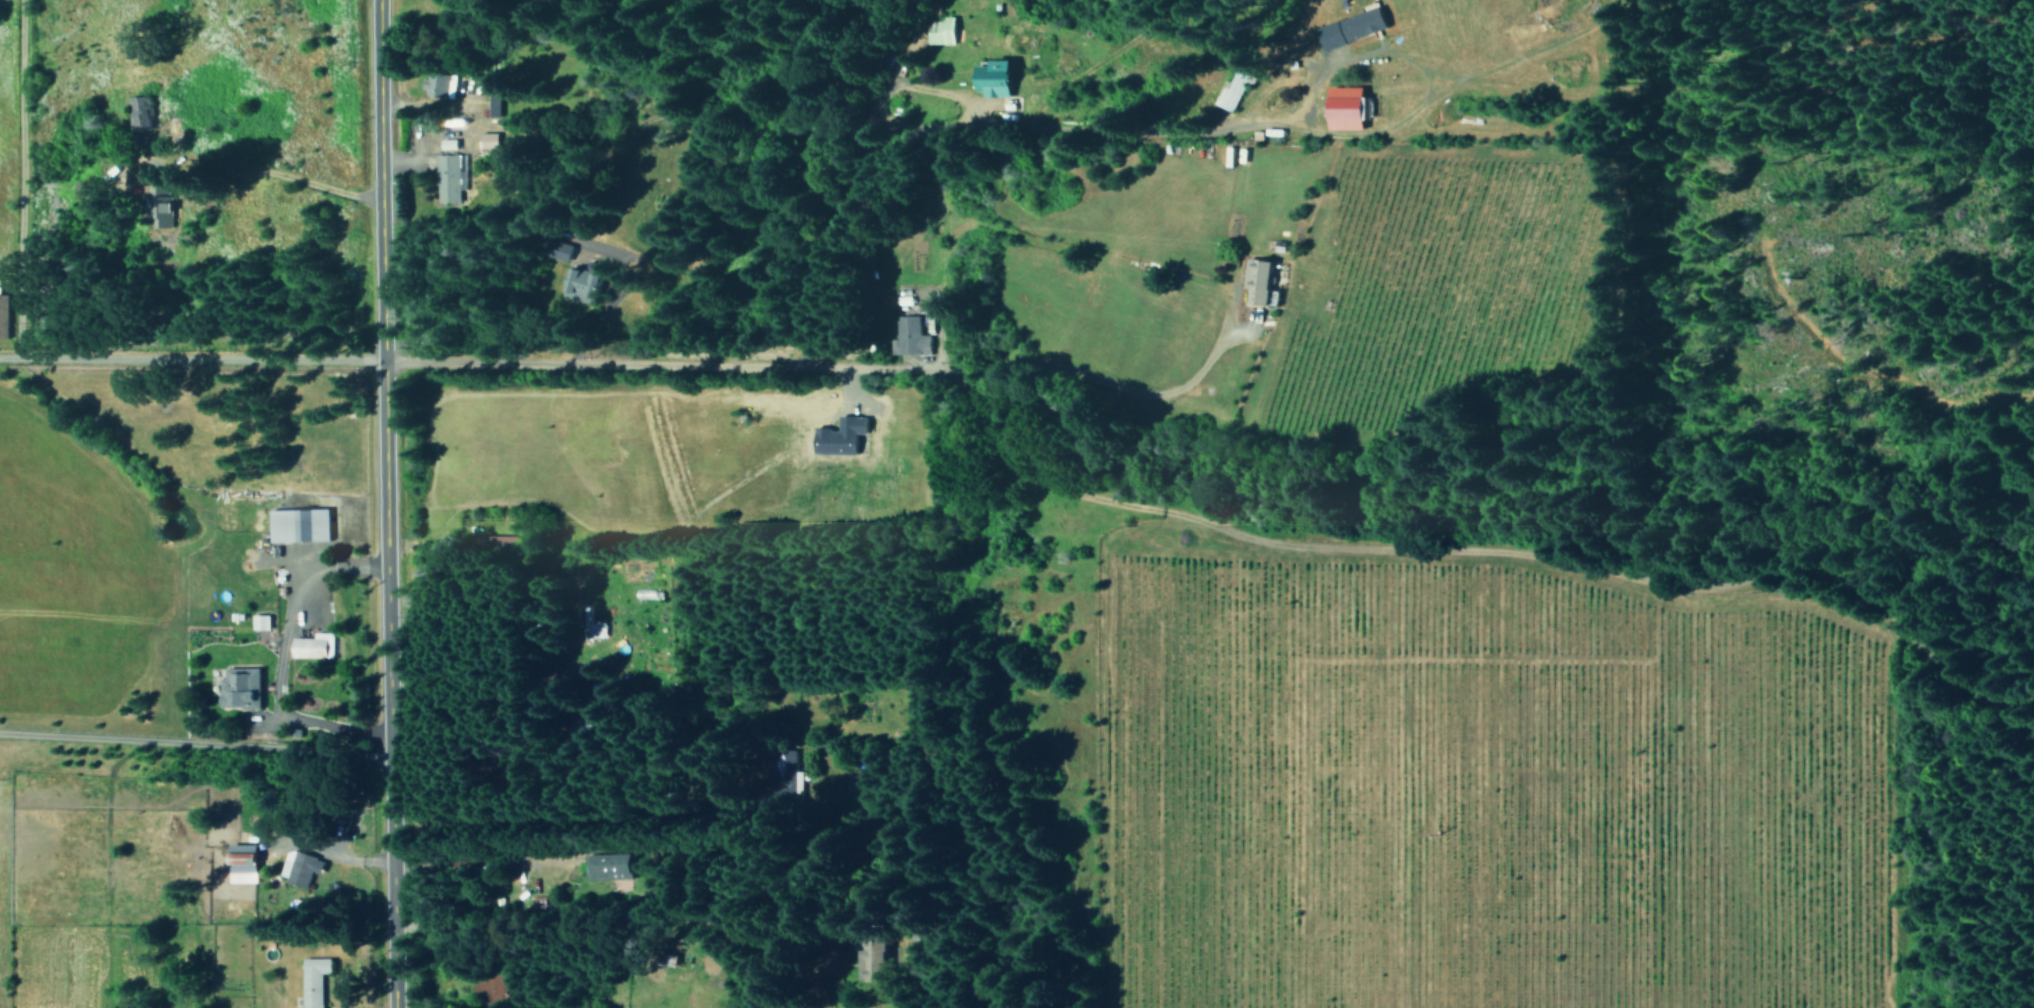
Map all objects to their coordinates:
building: (1356, 27)
building: (942, 31)
building: (494, 77)
building: (998, 78)
building: (441, 85)
building: (1237, 87)
building: (495, 105)
building: (1351, 107)
building: (141, 112)
building: (490, 140)
road: (913, 142)
road: (14, 166)
building: (448, 178)
building: (161, 206)
road: (1007, 216)
building: (1261, 280)
building: (584, 285)
building: (4, 316)
road: (183, 333)
building: (909, 337)
road: (631, 343)
building: (843, 436)
road: (955, 439)
road: (370, 504)
building: (301, 524)
building: (261, 621)
building: (314, 645)
building: (242, 687)
building: (589, 719)
road: (187, 737)
building: (788, 777)
road: (575, 794)
building: (245, 862)
building: (610, 866)
building: (301, 867)
road: (589, 937)
building: (872, 958)
building: (314, 980)

